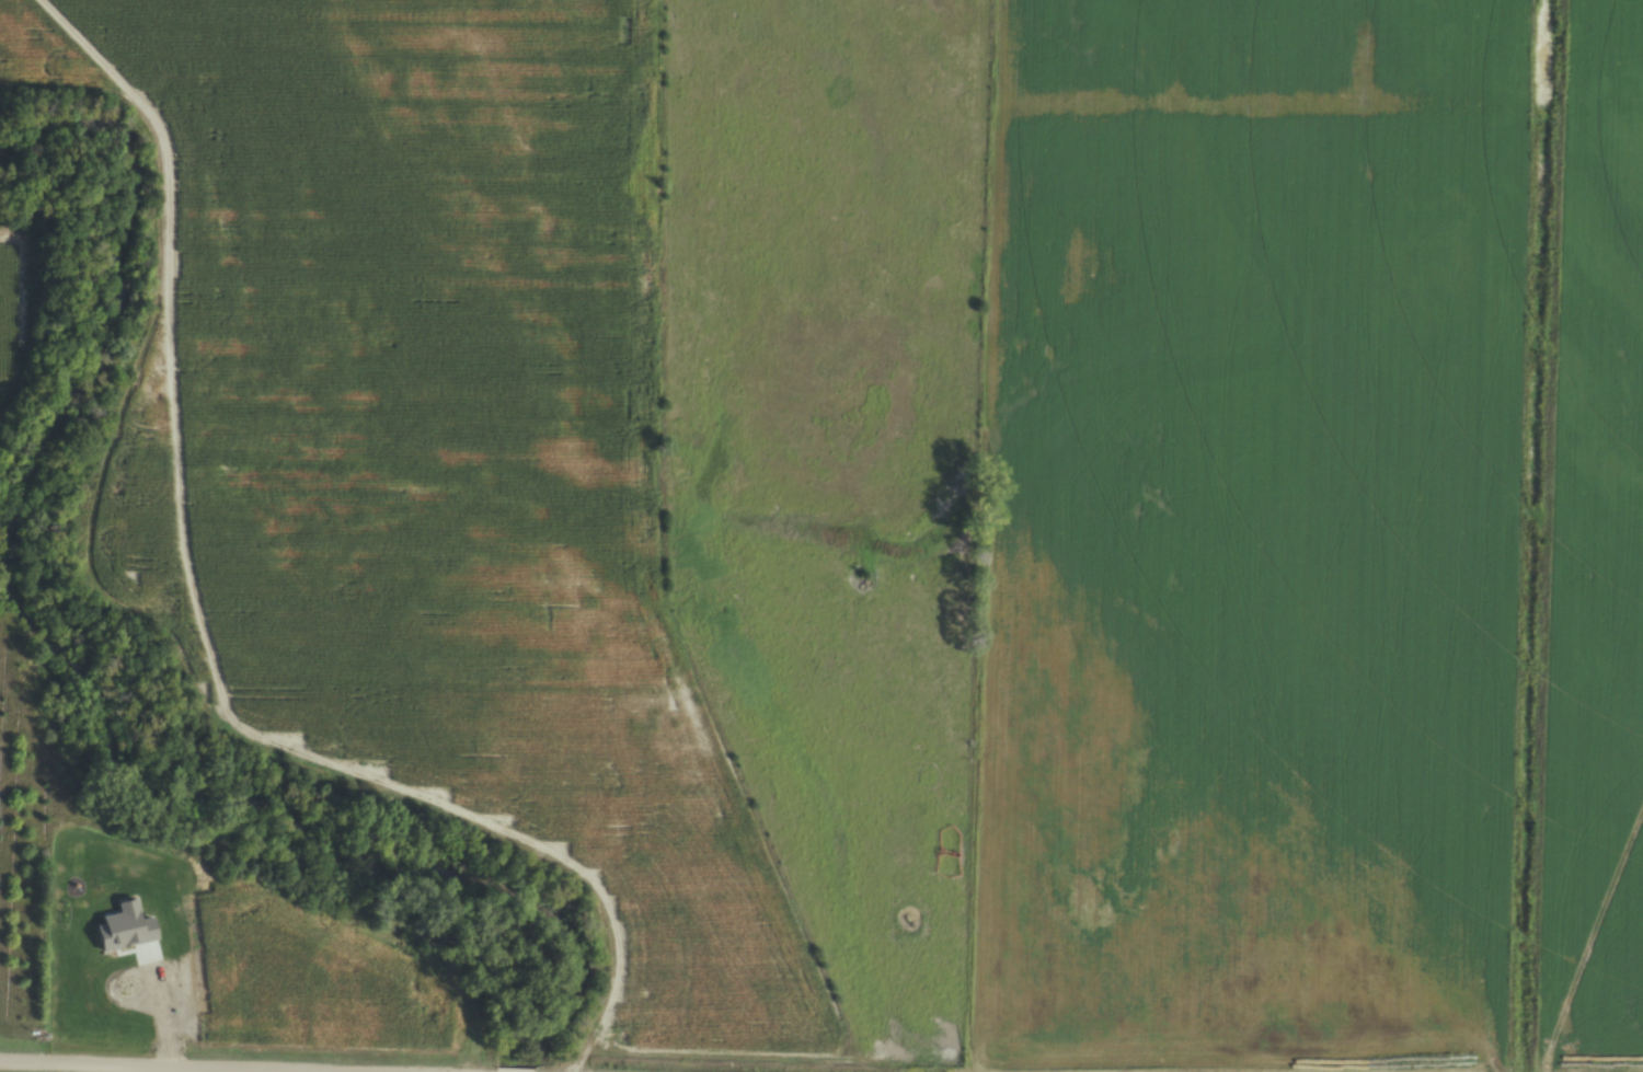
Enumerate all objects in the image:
road: (171, 1065)

